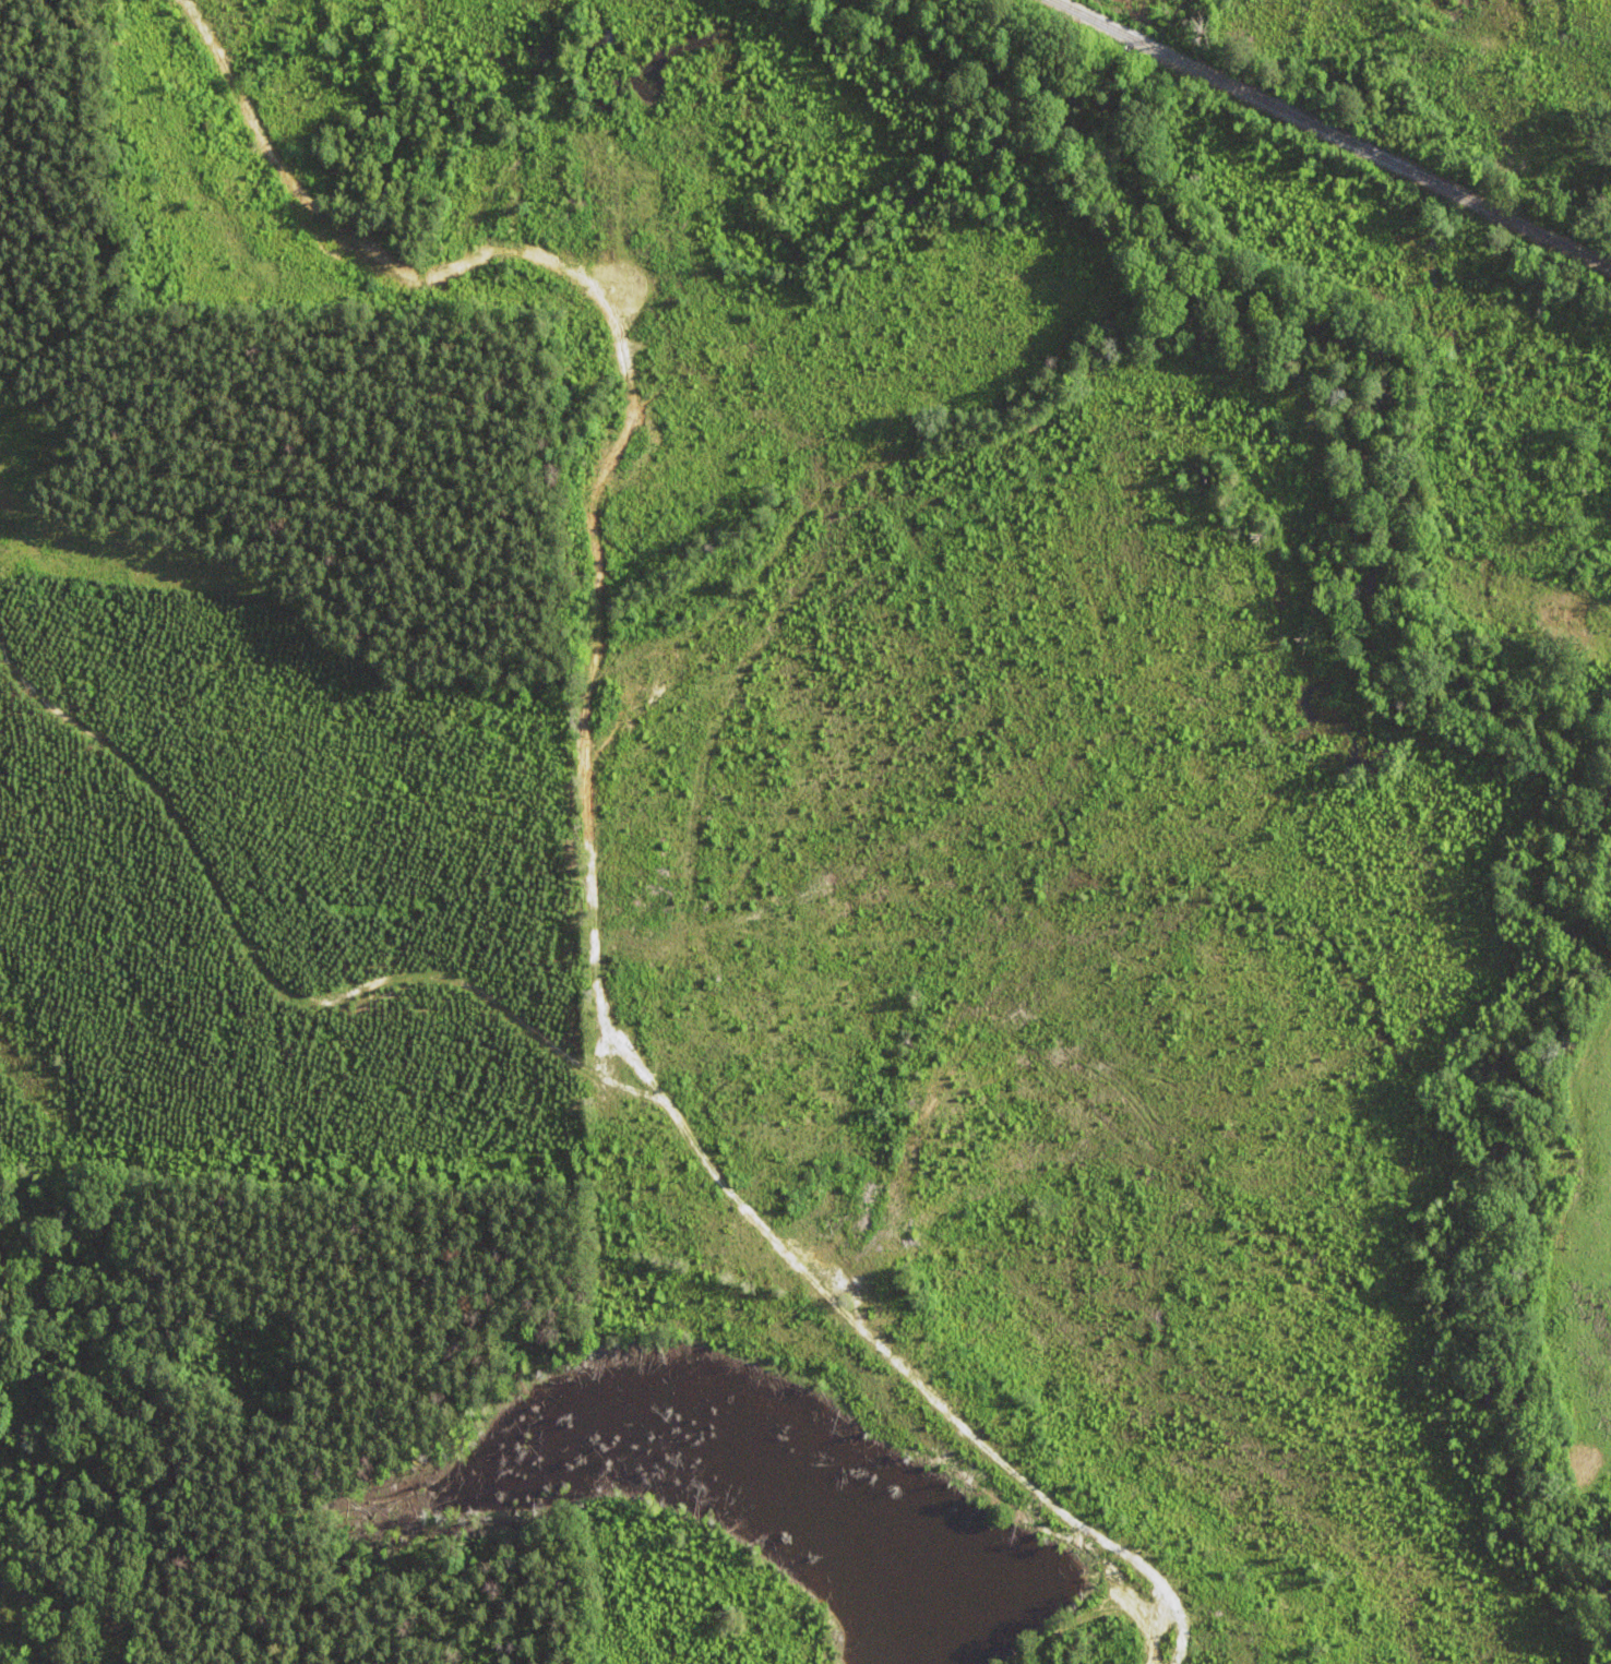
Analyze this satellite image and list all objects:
railway: (1284, 161)

